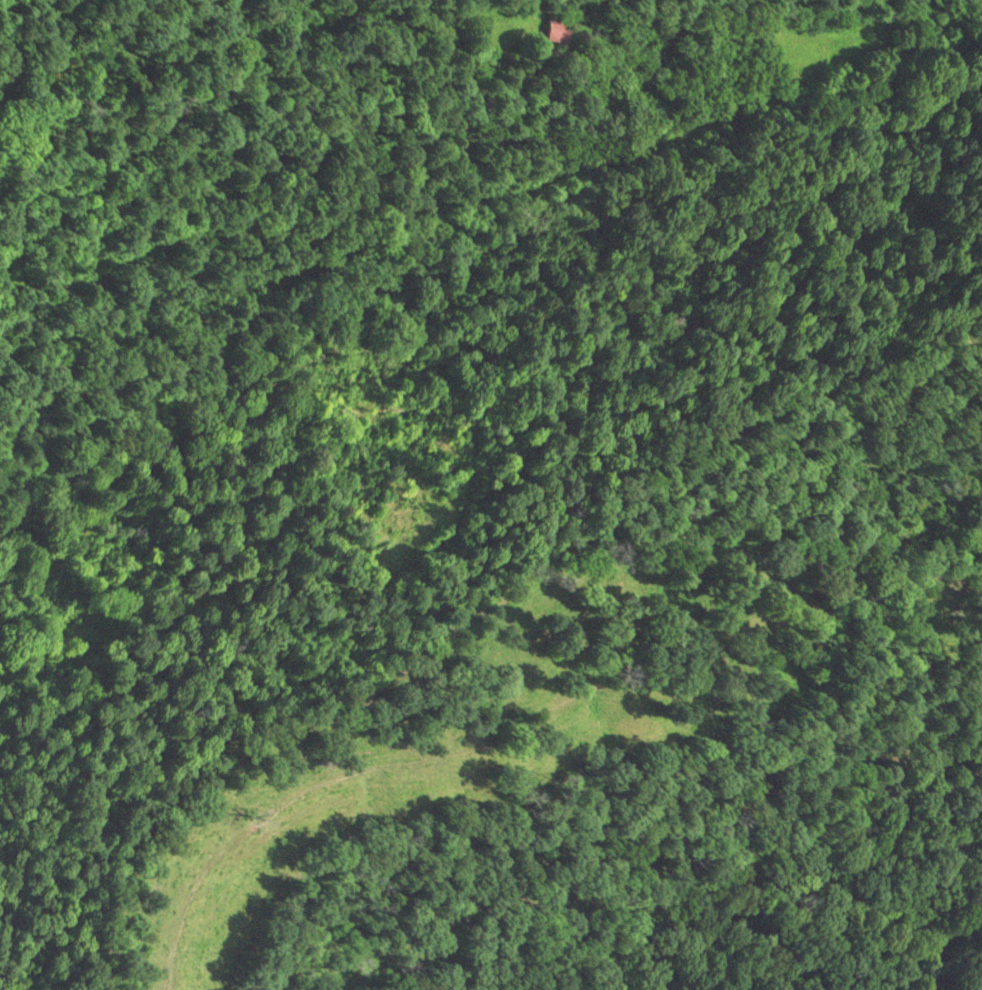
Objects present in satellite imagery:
building: (554, 30)

